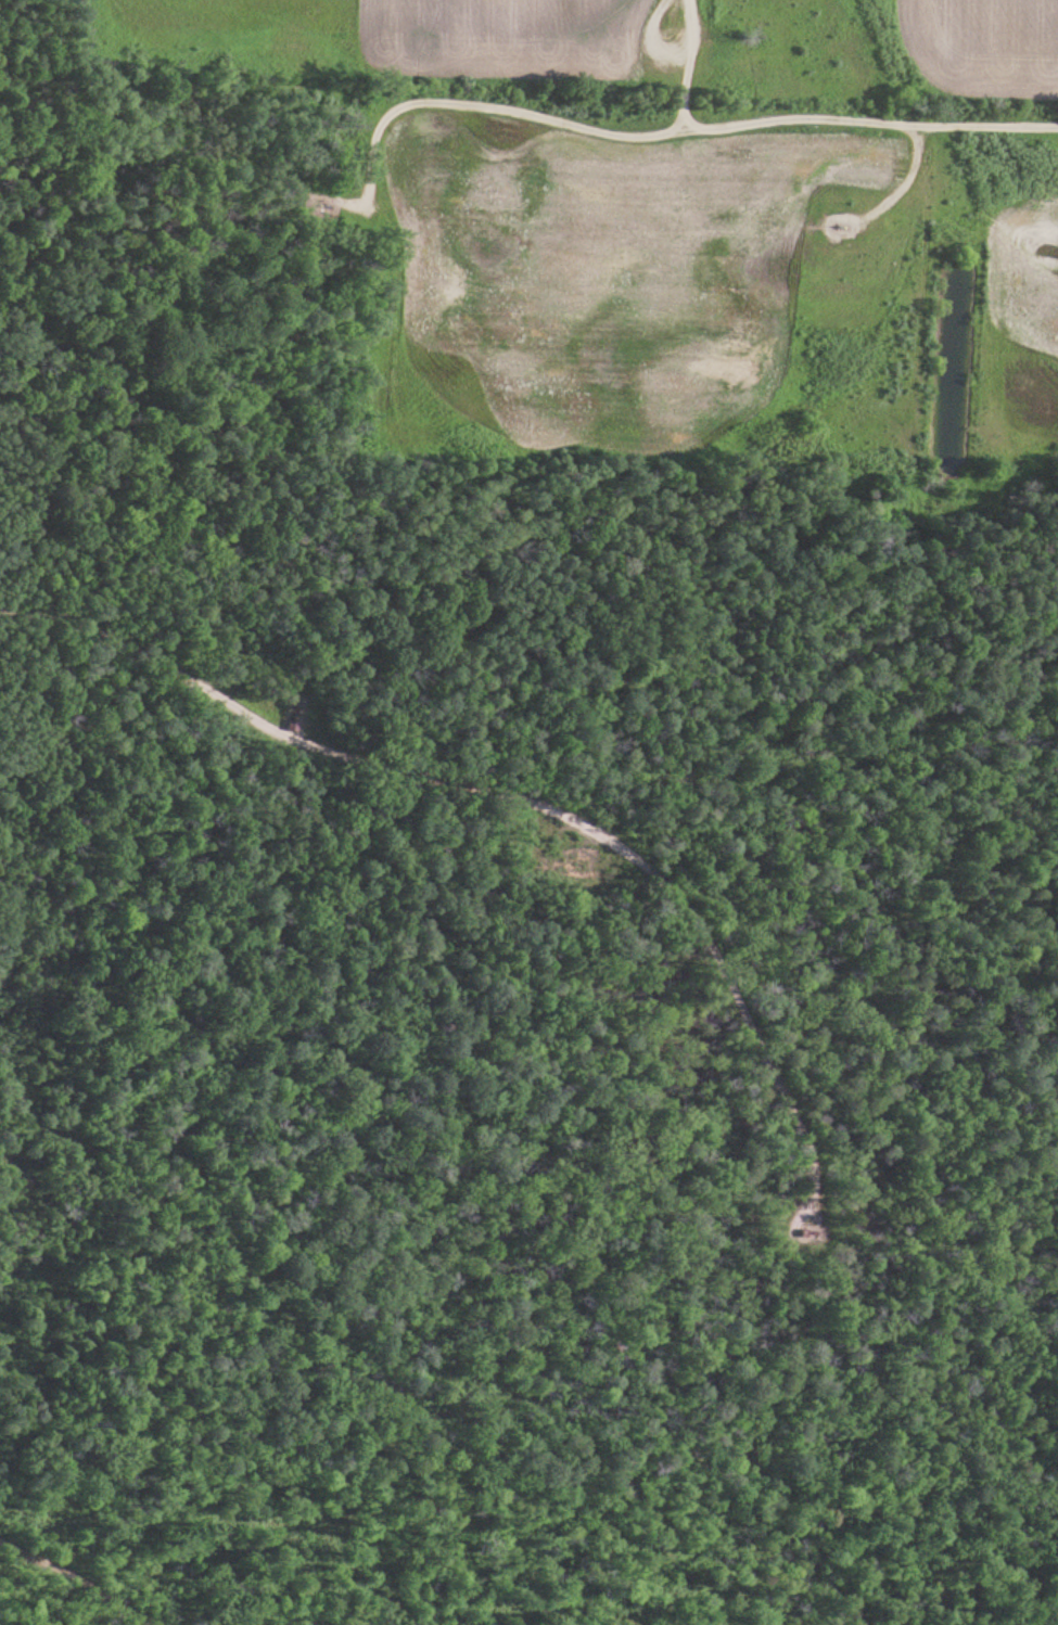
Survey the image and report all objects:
petroleum well: (360, 210)
petroleum well: (844, 231)
petroleum well: (295, 706)
road: (476, 781)

